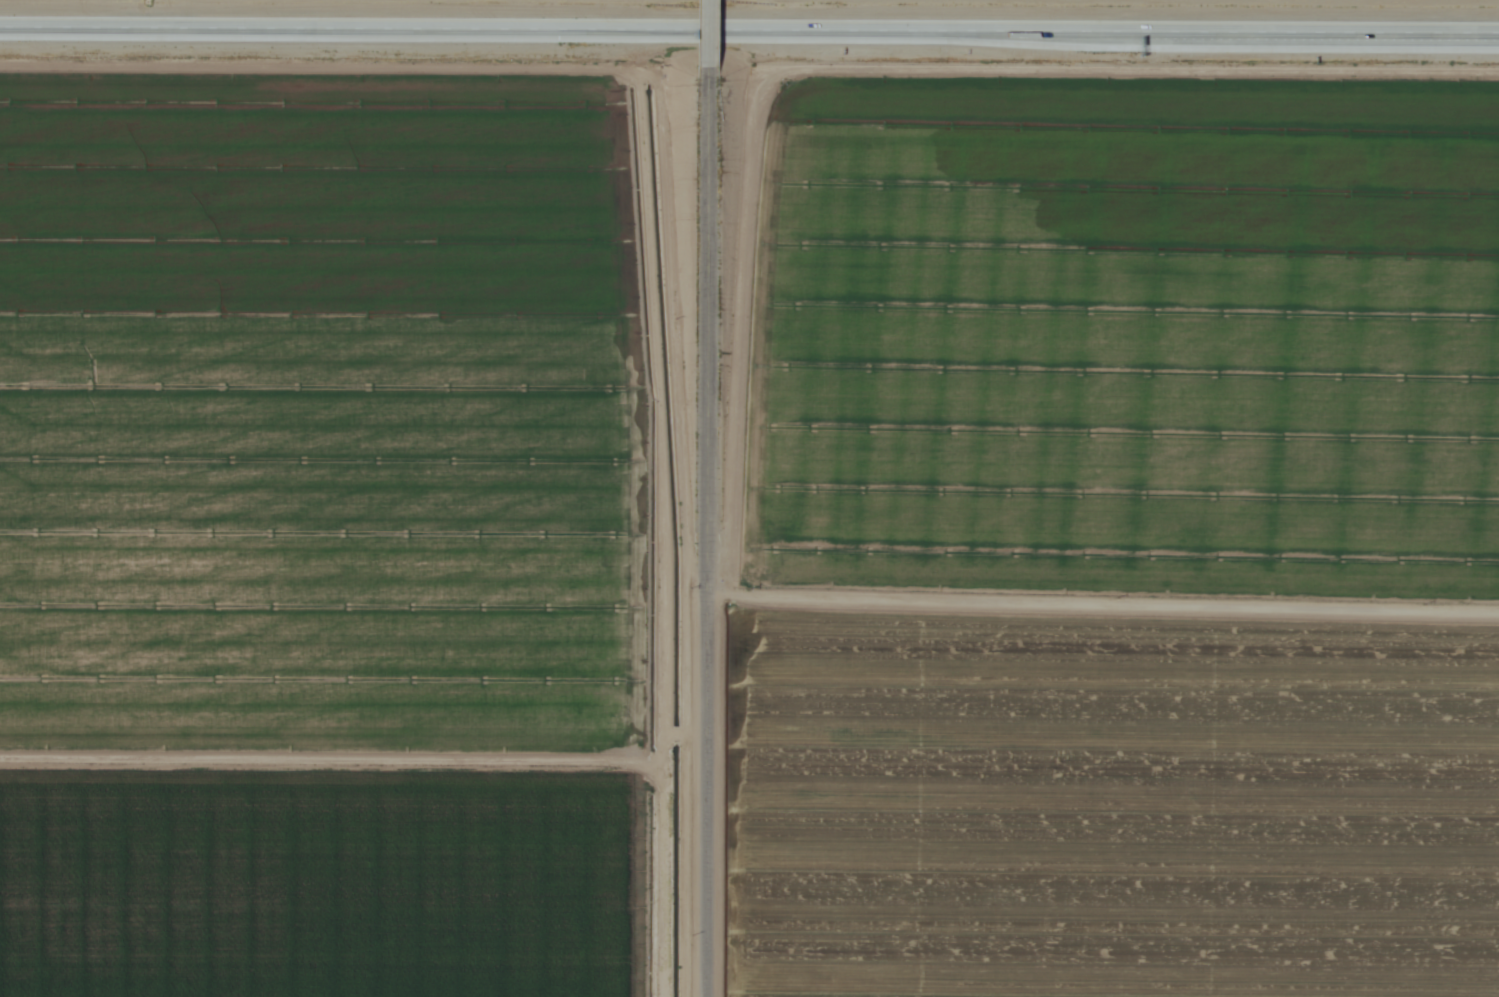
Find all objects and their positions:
building: (1011, 27)
road: (749, 29)
road: (706, 43)
road: (706, 542)

